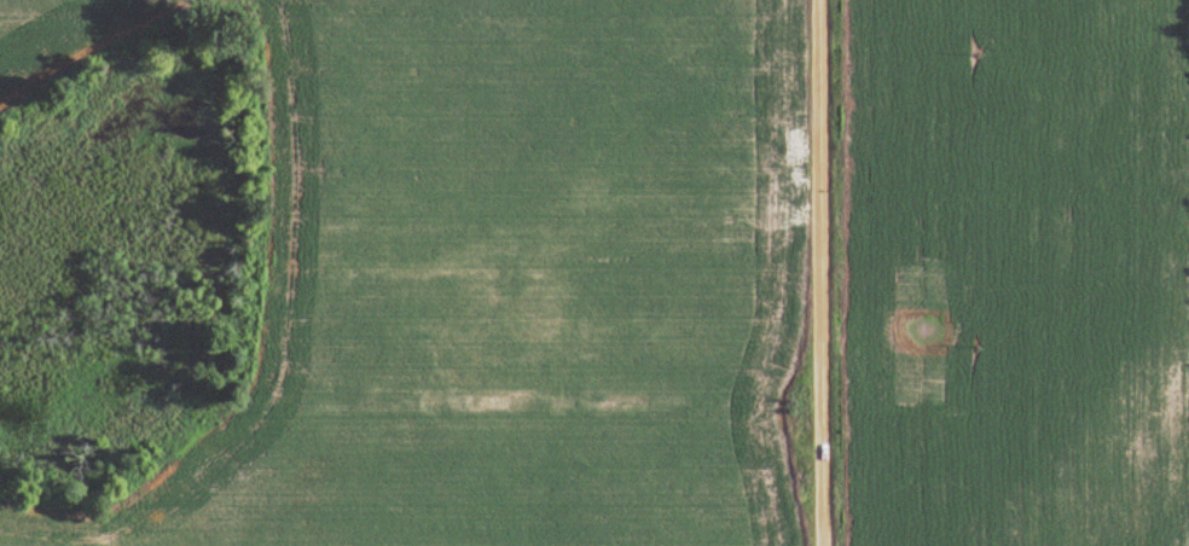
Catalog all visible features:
road: (829, 273)

